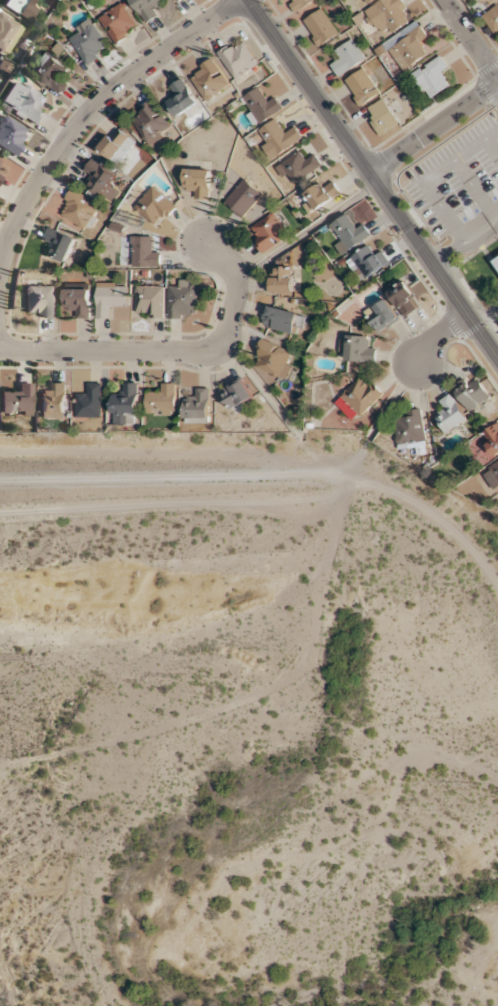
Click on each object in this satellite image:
building: (174, 0)
building: (364, 1)
building: (297, 4)
building: (20, 8)
building: (146, 8)
building: (388, 15)
building: (492, 18)
building: (118, 23)
building: (319, 27)
building: (8, 33)
road: (469, 41)
building: (86, 42)
building: (408, 46)
building: (346, 57)
building: (237, 58)
building: (51, 72)
building: (432, 77)
building: (208, 79)
road: (497, 82)
building: (361, 86)
building: (180, 98)
building: (25, 102)
building: (259, 105)
road: (89, 111)
building: (381, 118)
building: (150, 123)
road: (433, 126)
building: (11, 135)
building: (277, 138)
building: (116, 146)
road: (491, 148)
building: (296, 168)
road: (430, 176)
building: (99, 179)
road: (374, 179)
building: (198, 182)
road: (474, 189)
building: (242, 198)
building: (154, 206)
building: (78, 209)
building: (267, 232)
building: (348, 233)
road: (466, 240)
building: (58, 243)
building: (143, 252)
building: (496, 261)
building: (366, 262)
building: (280, 280)
building: (109, 297)
building: (403, 298)
building: (182, 299)
building: (39, 301)
building: (149, 301)
building: (382, 316)
building: (280, 320)
road: (437, 336)
building: (359, 349)
road: (171, 351)
building: (273, 360)
building: (235, 394)
building: (472, 394)
building: (361, 396)
building: (17, 400)
building: (161, 400)
building: (53, 401)
building: (88, 401)
building: (125, 405)
building: (197, 407)
building: (449, 414)
building: (408, 428)
building: (491, 438)
building: (492, 476)
dam: (153, 483)

